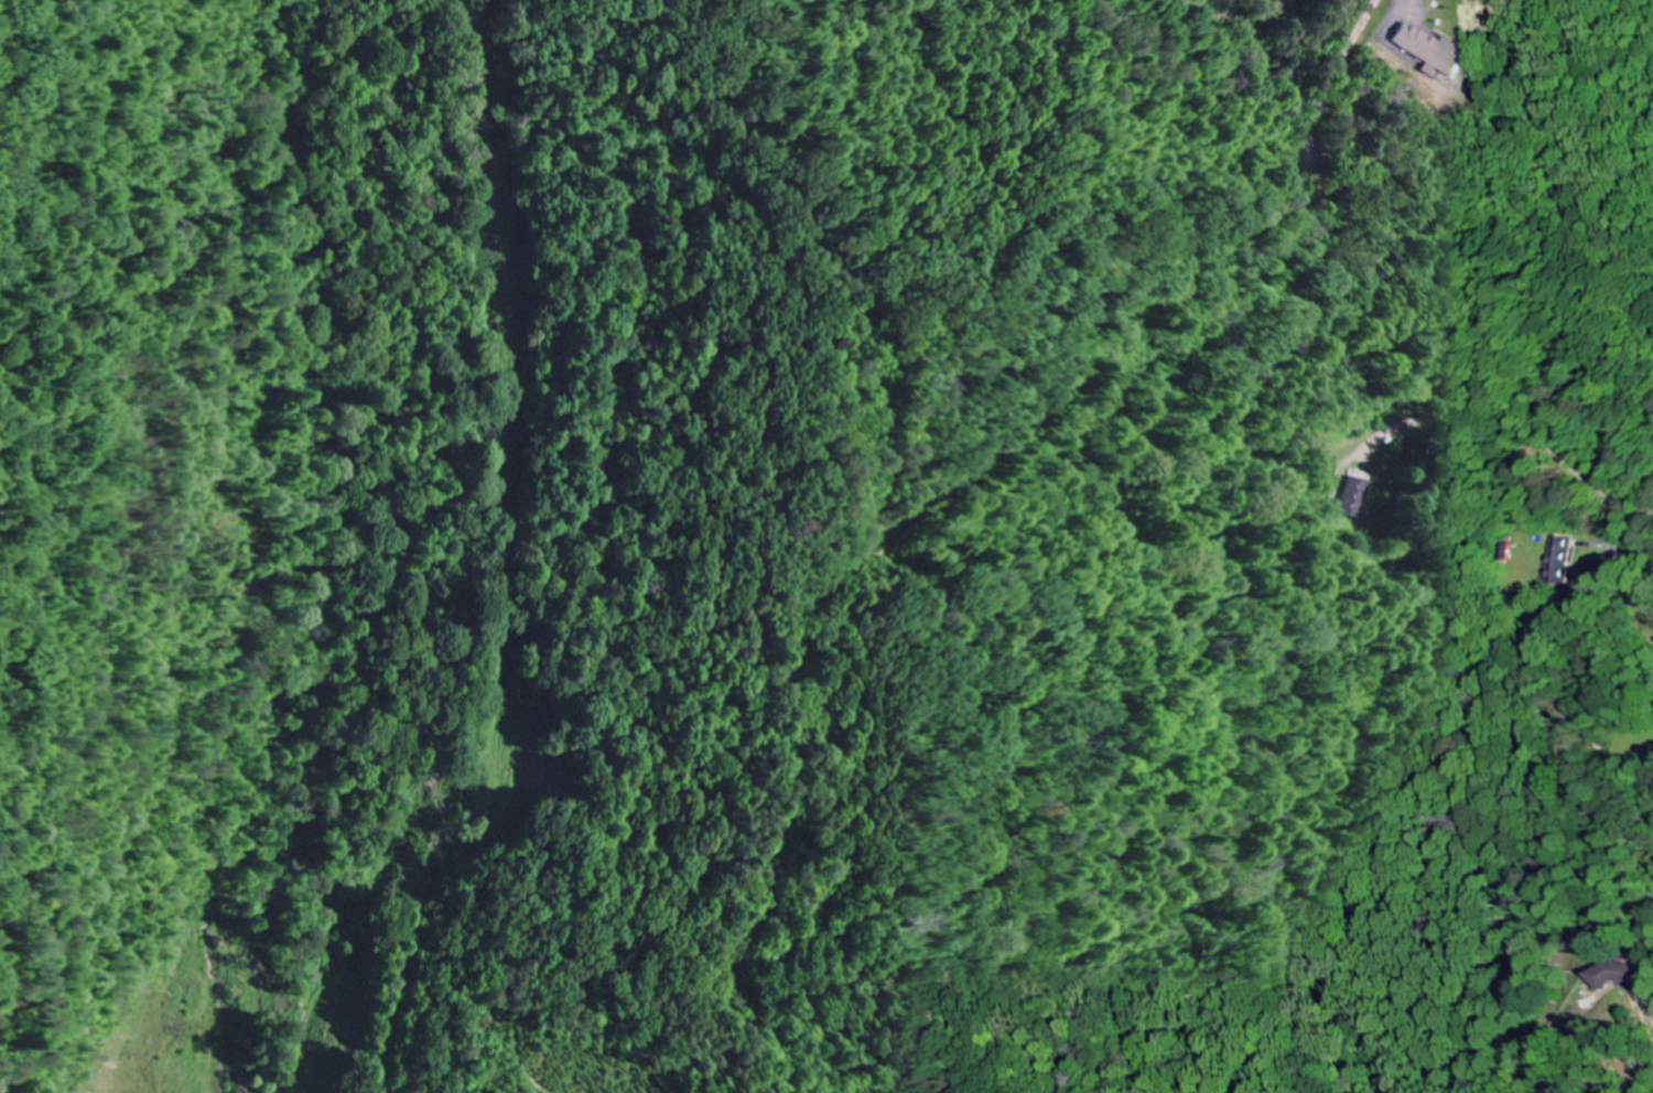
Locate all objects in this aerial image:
building: (1435, 52)
building: (1357, 498)
building: (1564, 562)
building: (1620, 977)

